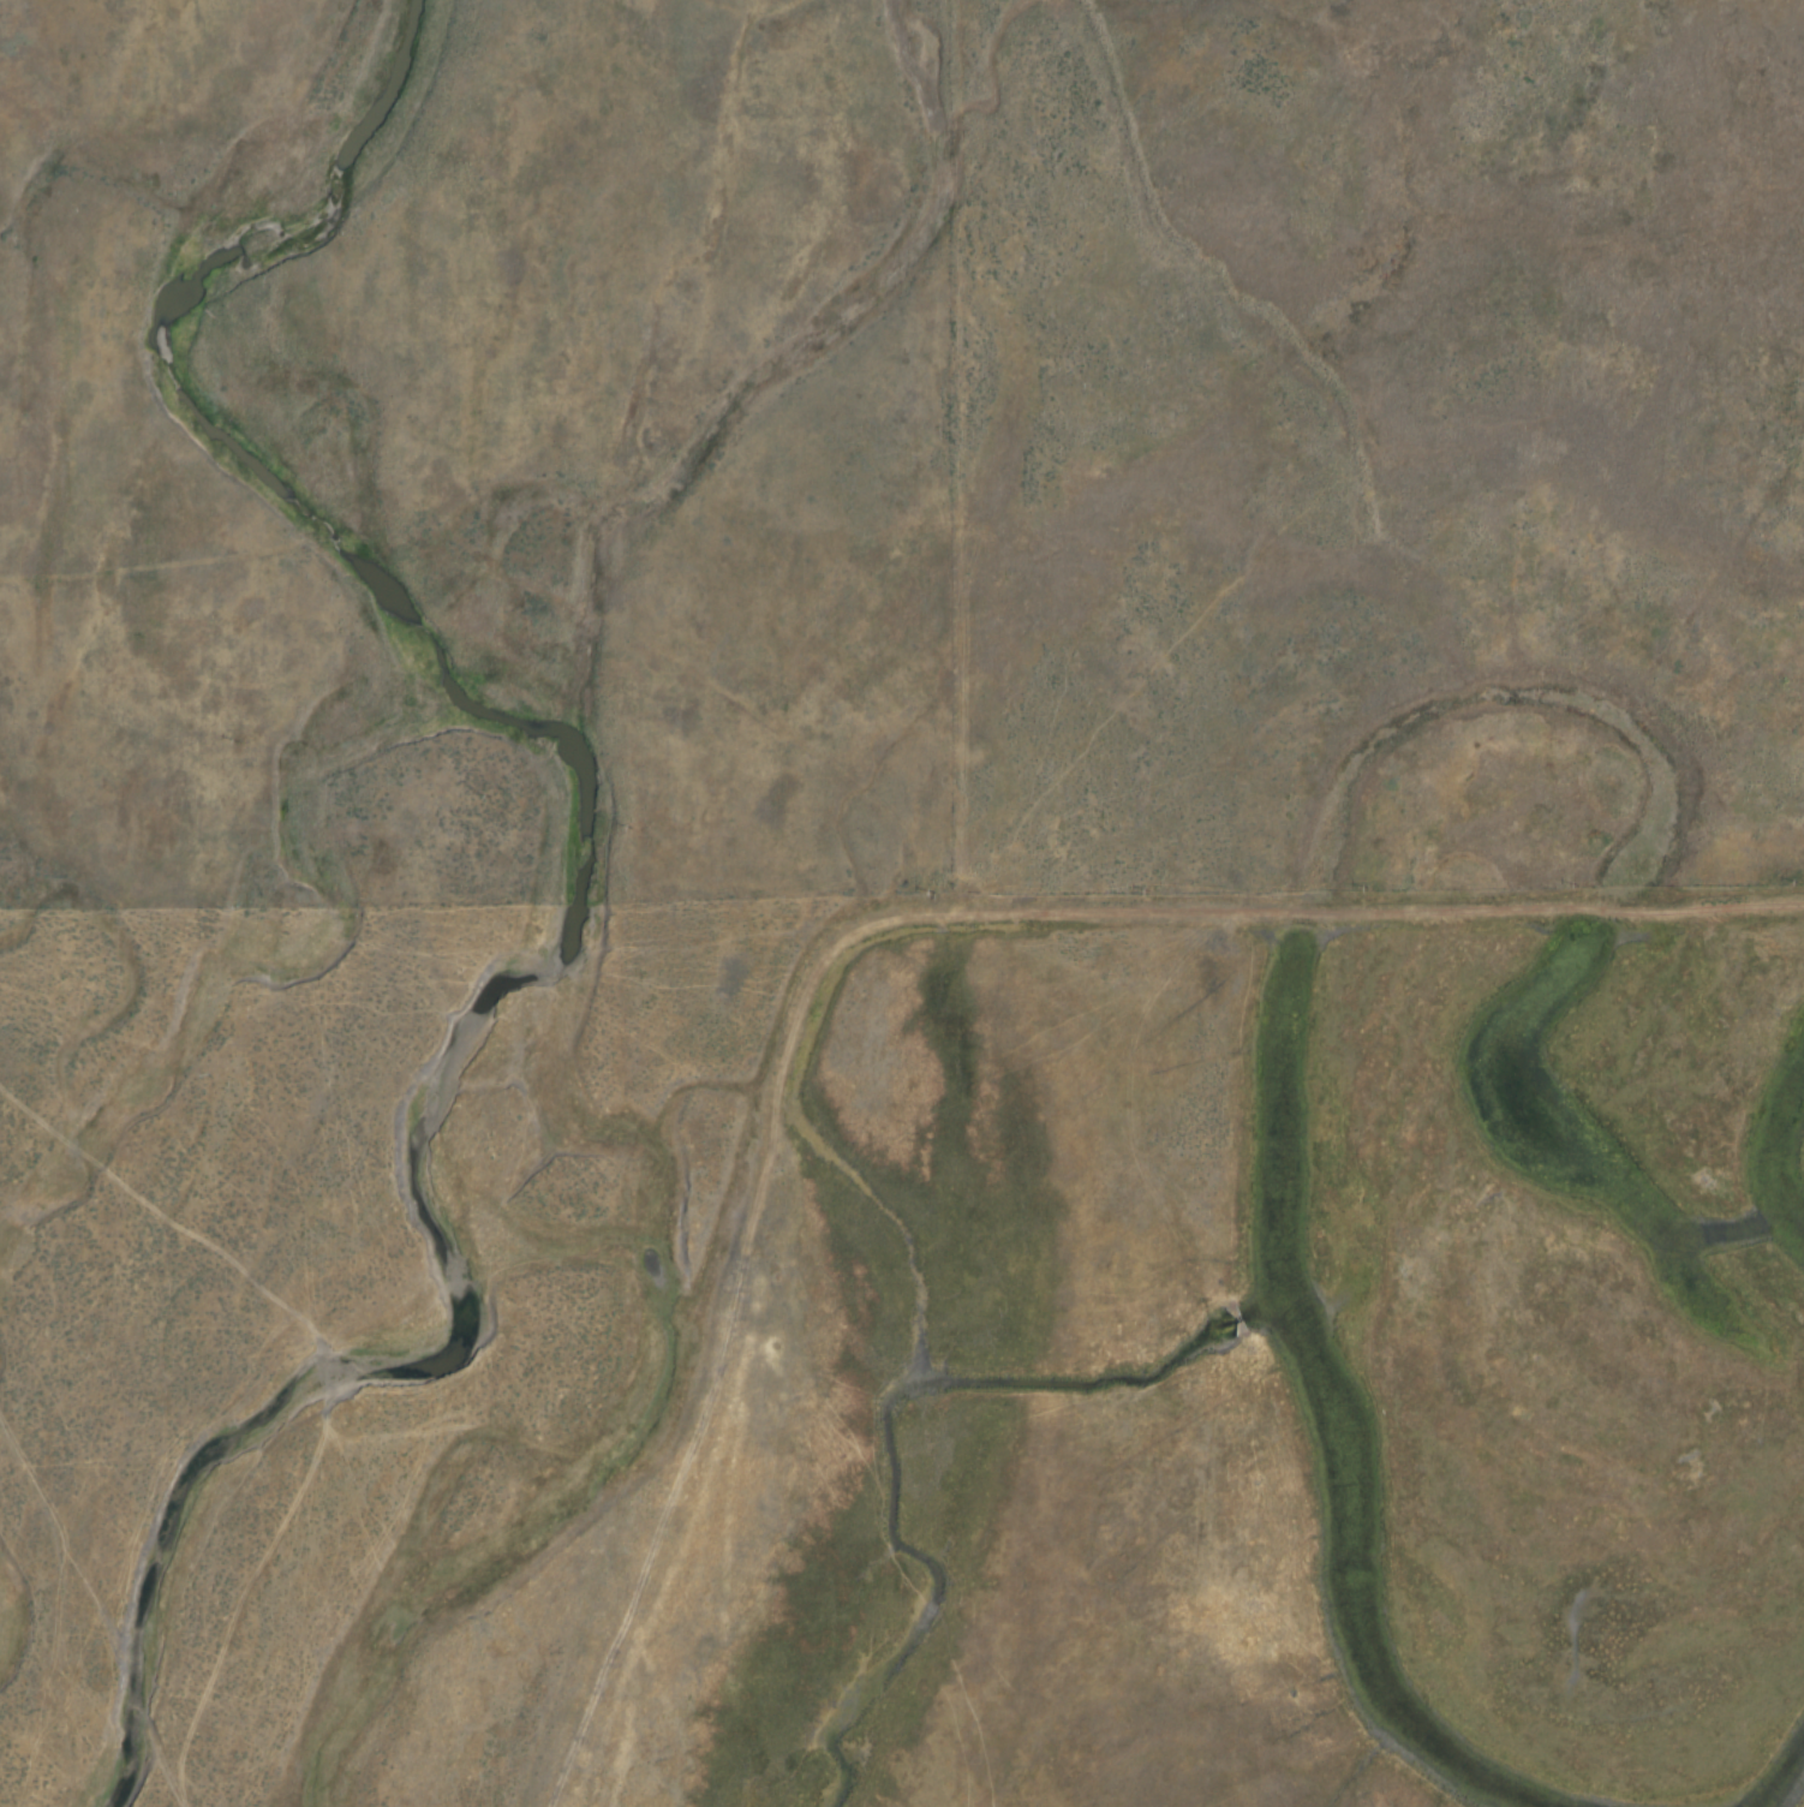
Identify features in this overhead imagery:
road: (222, 548)
road: (126, 571)
road: (1081, 812)
road: (1467, 911)
road: (1745, 911)
road: (1637, 912)
road: (1307, 914)
road: (764, 1167)

